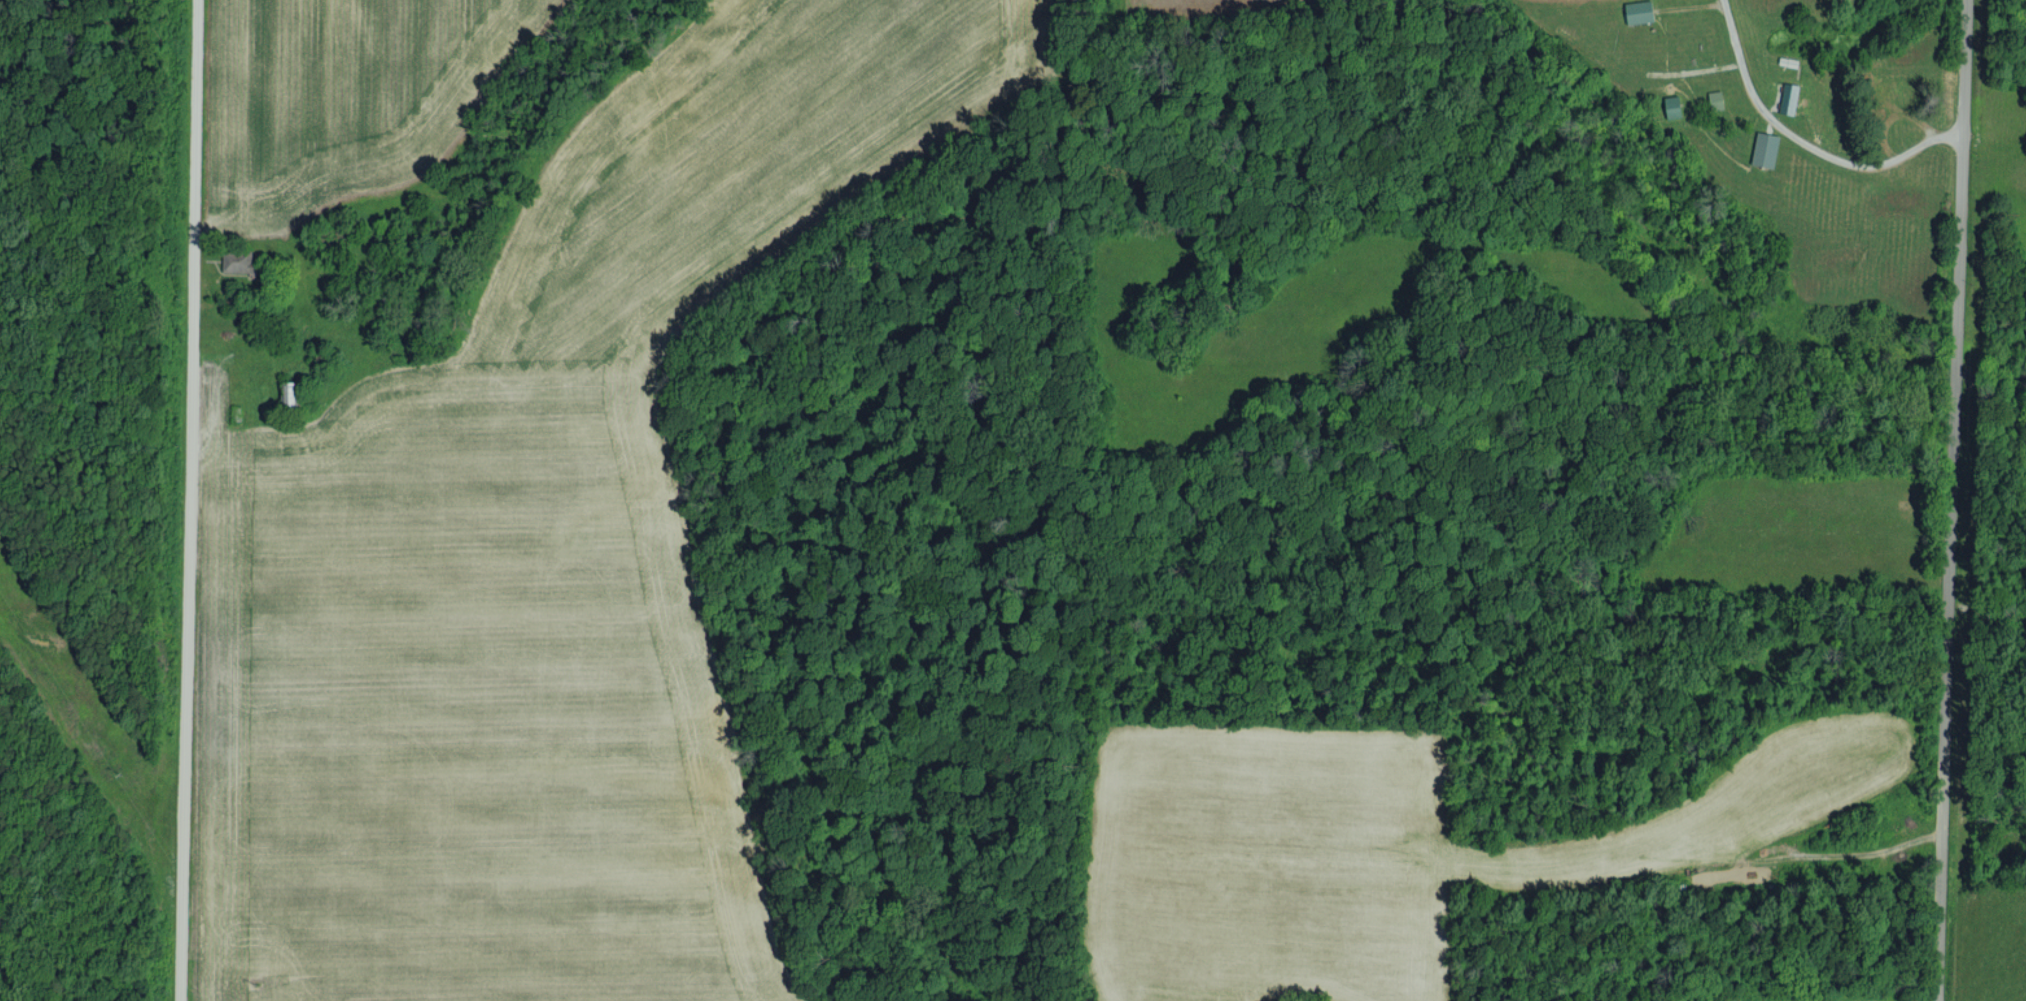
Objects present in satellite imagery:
building: (1641, 11)
building: (1790, 98)
building: (1716, 100)
building: (1675, 106)
building: (1767, 149)
building: (240, 261)
road: (188, 500)
road: (1945, 500)

